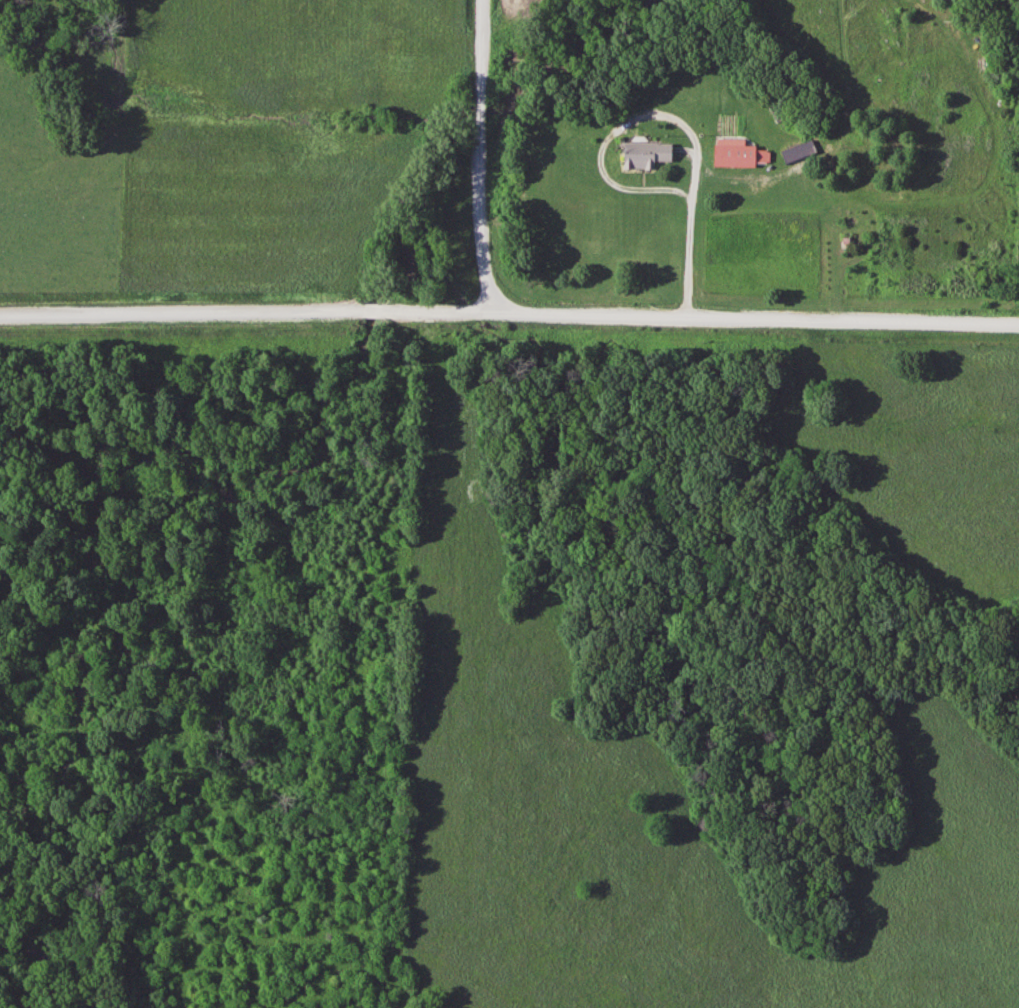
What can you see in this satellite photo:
road: (484, 47)
river: (601, 47)
road: (639, 114)
road: (485, 120)
building: (796, 151)
building: (735, 153)
building: (643, 154)
road: (486, 229)
road: (691, 252)
road: (509, 313)

